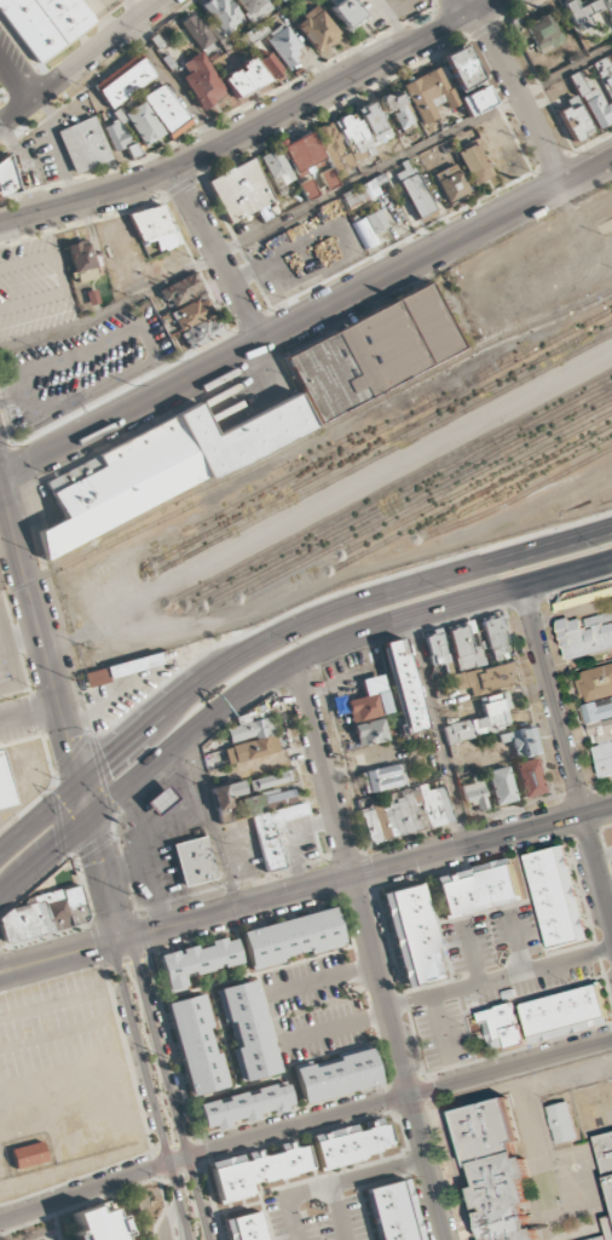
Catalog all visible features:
building: (282, 1)
building: (607, 7)
building: (254, 8)
road: (457, 8)
building: (346, 12)
building: (582, 12)
building: (223, 15)
building: (44, 23)
building: (317, 29)
building: (543, 33)
building: (197, 34)
building: (283, 45)
building: (610, 58)
road: (80, 62)
building: (270, 65)
building: (461, 69)
building: (606, 74)
road: (17, 75)
building: (244, 77)
building: (125, 81)
building: (201, 81)
building: (429, 94)
road: (521, 97)
building: (475, 101)
building: (594, 103)
building: (397, 109)
building: (167, 110)
building: (576, 121)
building: (142, 122)
road: (255, 126)
building: (354, 134)
building: (120, 137)
building: (83, 145)
building: (333, 148)
building: (290, 159)
building: (474, 163)
building: (5, 177)
building: (450, 183)
building: (241, 190)
building: (415, 193)
building: (359, 194)
building: (155, 228)
building: (369, 229)
railway: (552, 242)
road: (219, 256)
building: (81, 262)
parking lot: (34, 287)
building: (179, 291)
railway: (599, 297)
building: (191, 314)
road: (307, 318)
building: (202, 333)
railway: (530, 339)
building: (371, 352)
parking lot: (77, 366)
railway: (317, 432)
railway: (383, 442)
railway: (352, 443)
railway: (385, 454)
building: (157, 469)
railway: (375, 470)
railway: (379, 481)
railway: (396, 483)
railway: (510, 488)
railway: (195, 505)
railway: (571, 507)
railway: (201, 513)
railway: (356, 515)
railway: (404, 522)
railway: (358, 524)
railway: (369, 529)
railway: (422, 536)
railway: (481, 539)
railway: (373, 549)
building: (0, 585)
building: (0, 593)
building: (587, 633)
road: (276, 635)
building: (495, 636)
parking lot: (8, 661)
road: (275, 672)
building: (485, 678)
building: (596, 682)
building: (400, 687)
road: (59, 706)
building: (366, 706)
building: (597, 711)
road: (30, 717)
building: (481, 719)
building: (601, 730)
parking lot: (15, 731)
building: (369, 733)
building: (250, 740)
building: (519, 742)
road: (567, 757)
building: (604, 758)
traffic signals: (109, 760)
traffic signals: (73, 762)
building: (382, 777)
building: (529, 777)
building: (270, 781)
building: (500, 786)
building: (4, 790)
building: (225, 794)
building: (474, 796)
building: (161, 799)
building: (405, 813)
road: (213, 821)
building: (266, 821)
traffic signals: (96, 850)
traffic signals: (52, 854)
building: (192, 860)
road: (317, 886)
building: (477, 888)
building: (555, 896)
building: (44, 914)
building: (412, 935)
building: (290, 937)
road: (370, 951)
building: (195, 960)
road: (11, 961)
road: (12, 974)
parking lot: (490, 976)
parking lot: (314, 1007)
building: (565, 1012)
building: (500, 1026)
building: (247, 1029)
building: (196, 1044)
building: (335, 1074)
road: (167, 1086)
road: (149, 1089)
building: (244, 1106)
building: (560, 1120)
road: (304, 1121)
building: (351, 1142)
building: (27, 1155)
building: (605, 1155)
building: (254, 1170)
building: (495, 1172)
building: (392, 1211)
parking lot: (318, 1213)
building: (94, 1224)
building: (608, 1224)
building: (244, 1227)

